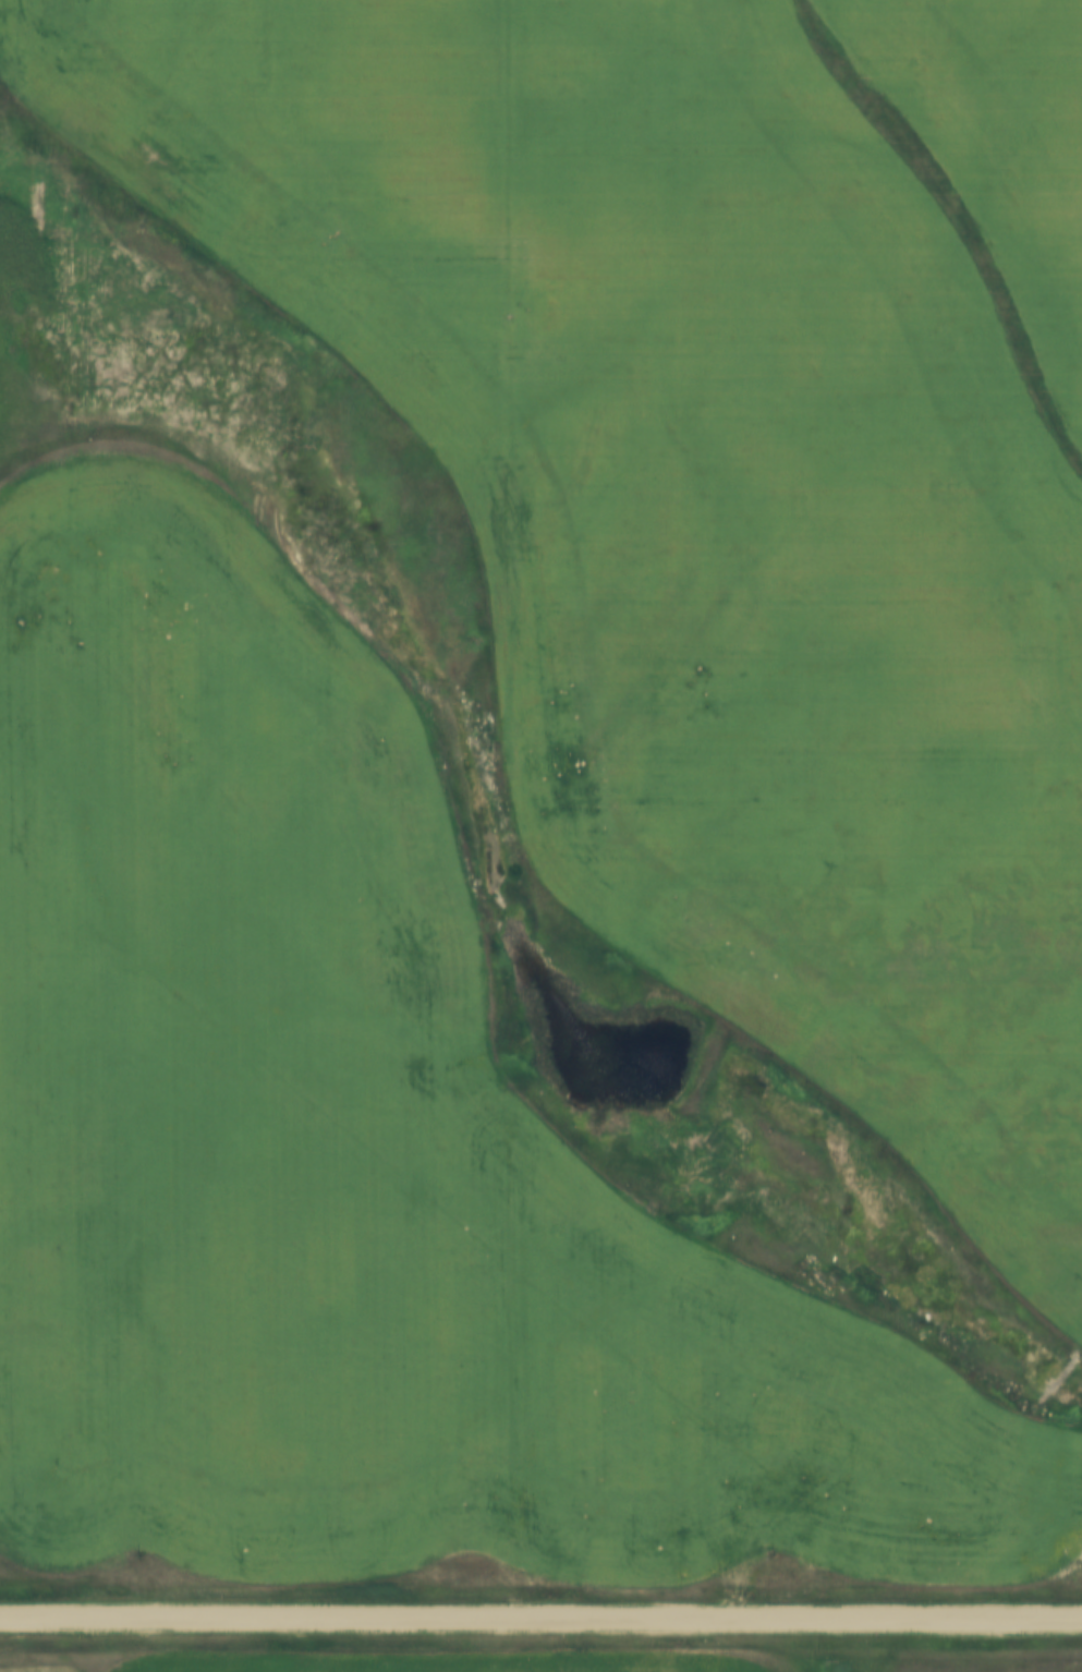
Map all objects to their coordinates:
road: (540, 1622)

